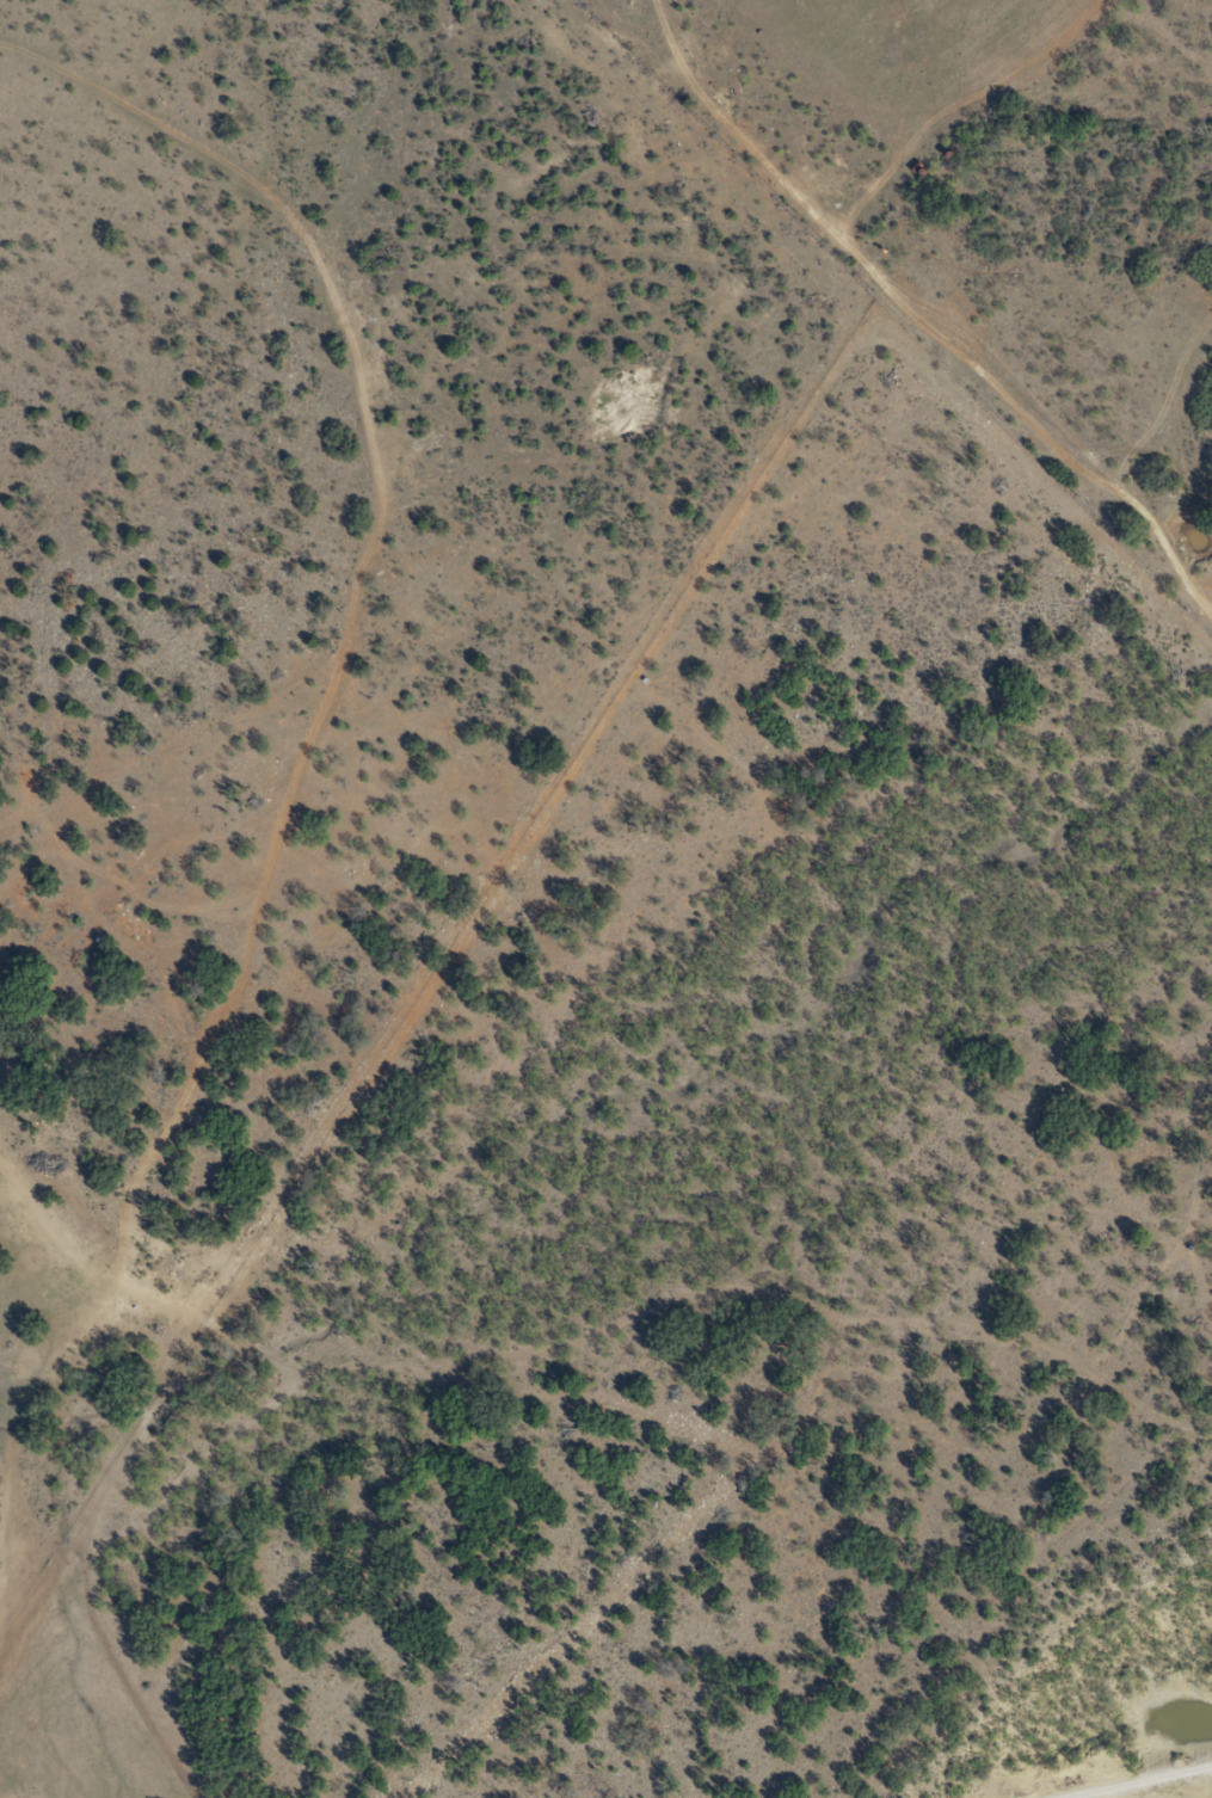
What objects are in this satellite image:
crop: (905, 45)
road: (943, 400)
crop: (1208, 591)

